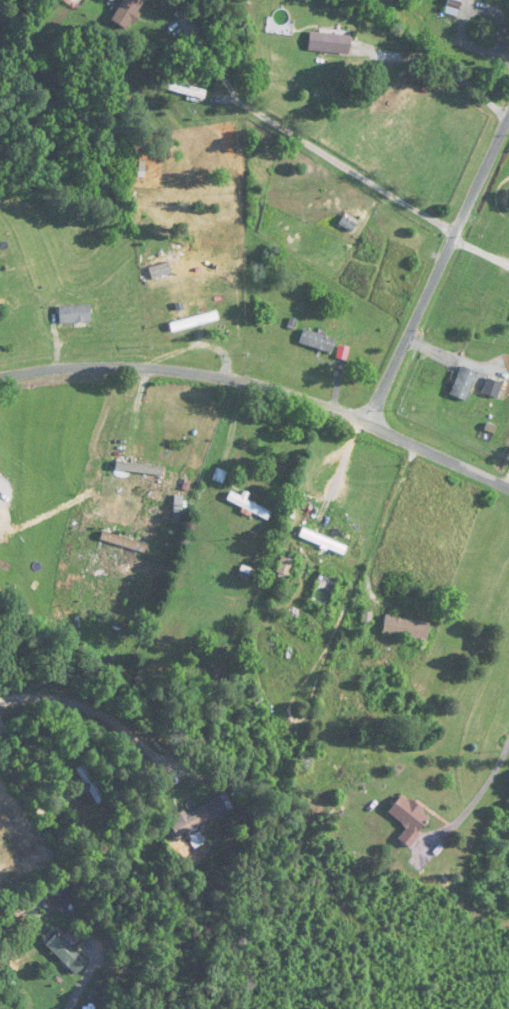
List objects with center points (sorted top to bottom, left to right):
building: (453, 8)
building: (128, 12)
building: (331, 44)
road: (452, 74)
building: (187, 90)
road: (313, 146)
road: (438, 270)
building: (165, 276)
building: (75, 315)
building: (195, 321)
building: (318, 341)
building: (464, 384)
road: (262, 386)
building: (492, 389)
building: (140, 468)
building: (249, 507)
road: (383, 527)
building: (323, 542)
building: (286, 568)
building: (83, 600)
building: (406, 628)
road: (88, 709)
road: (477, 798)
building: (202, 816)
building: (409, 819)
building: (67, 954)
road: (76, 992)

